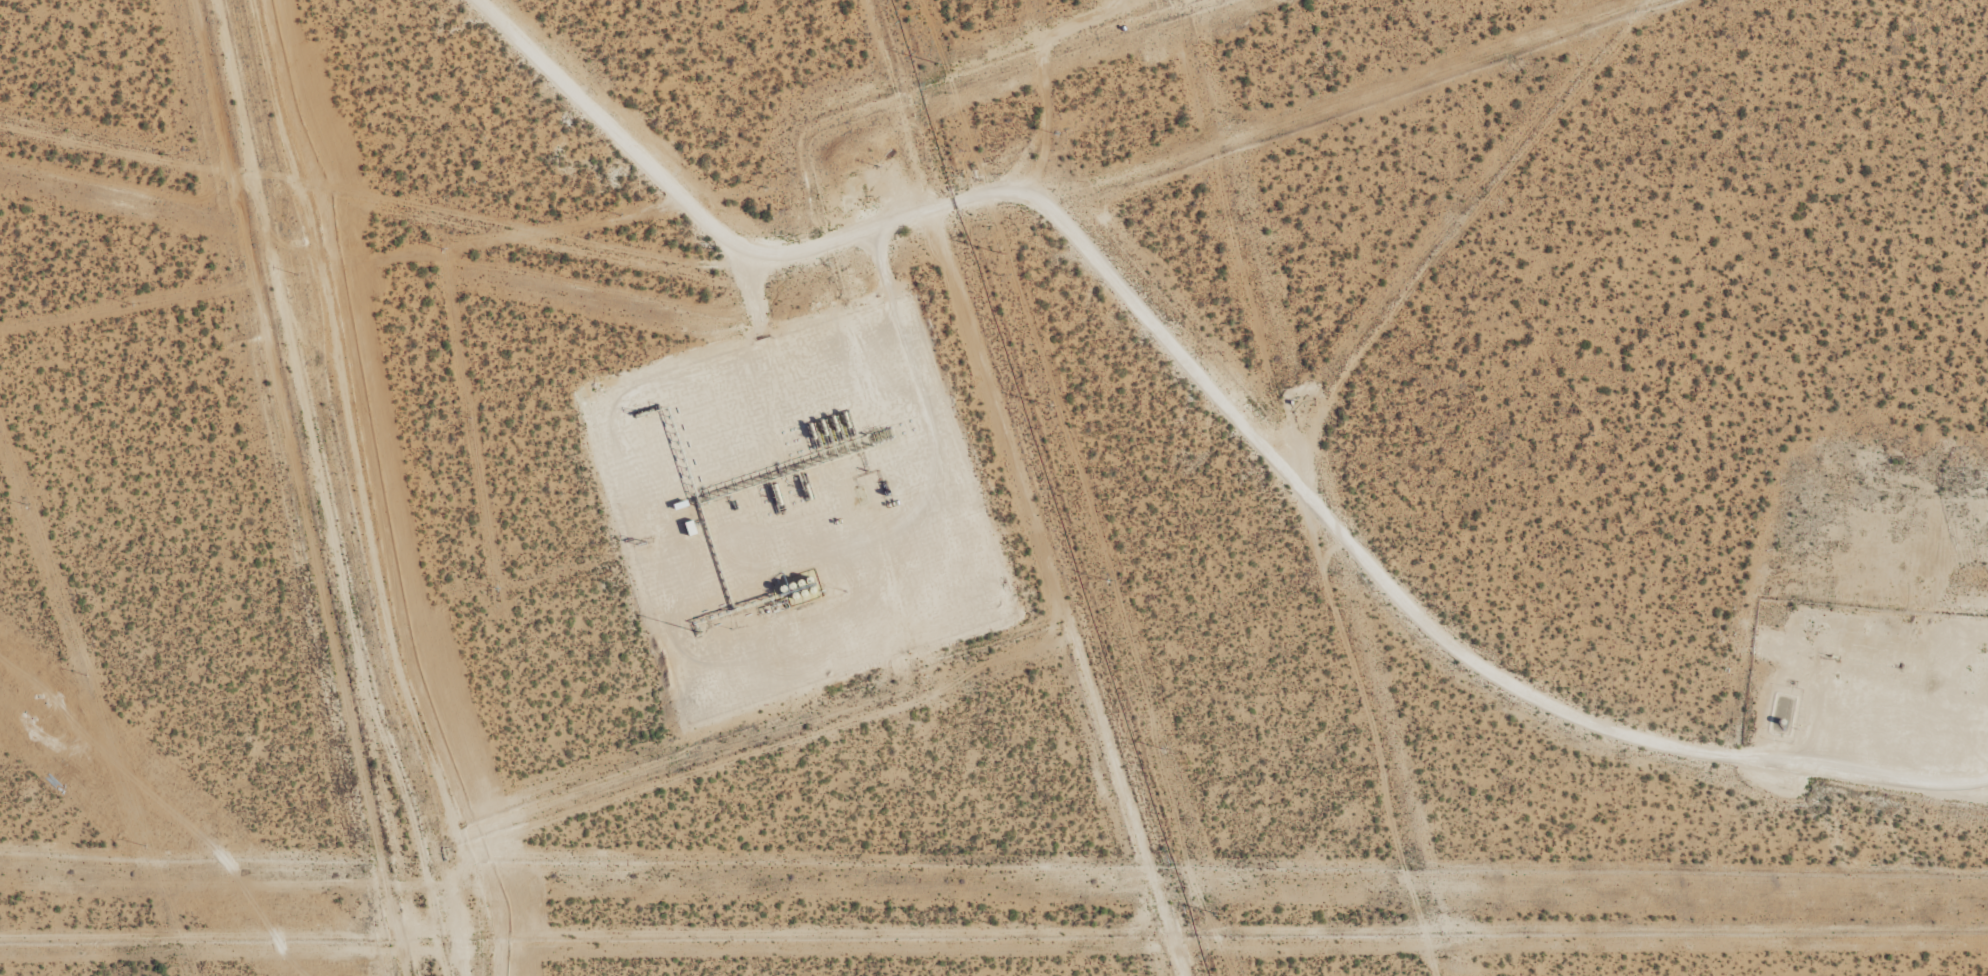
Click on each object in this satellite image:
power tower: (937, 64)
road: (904, 222)
power tower: (998, 251)
road: (880, 263)
road: (754, 291)
power tower: (1049, 406)
power tower: (1106, 581)
power tower: (34, 710)
road: (1601, 729)
power tower: (1160, 748)
power tower: (1214, 913)

